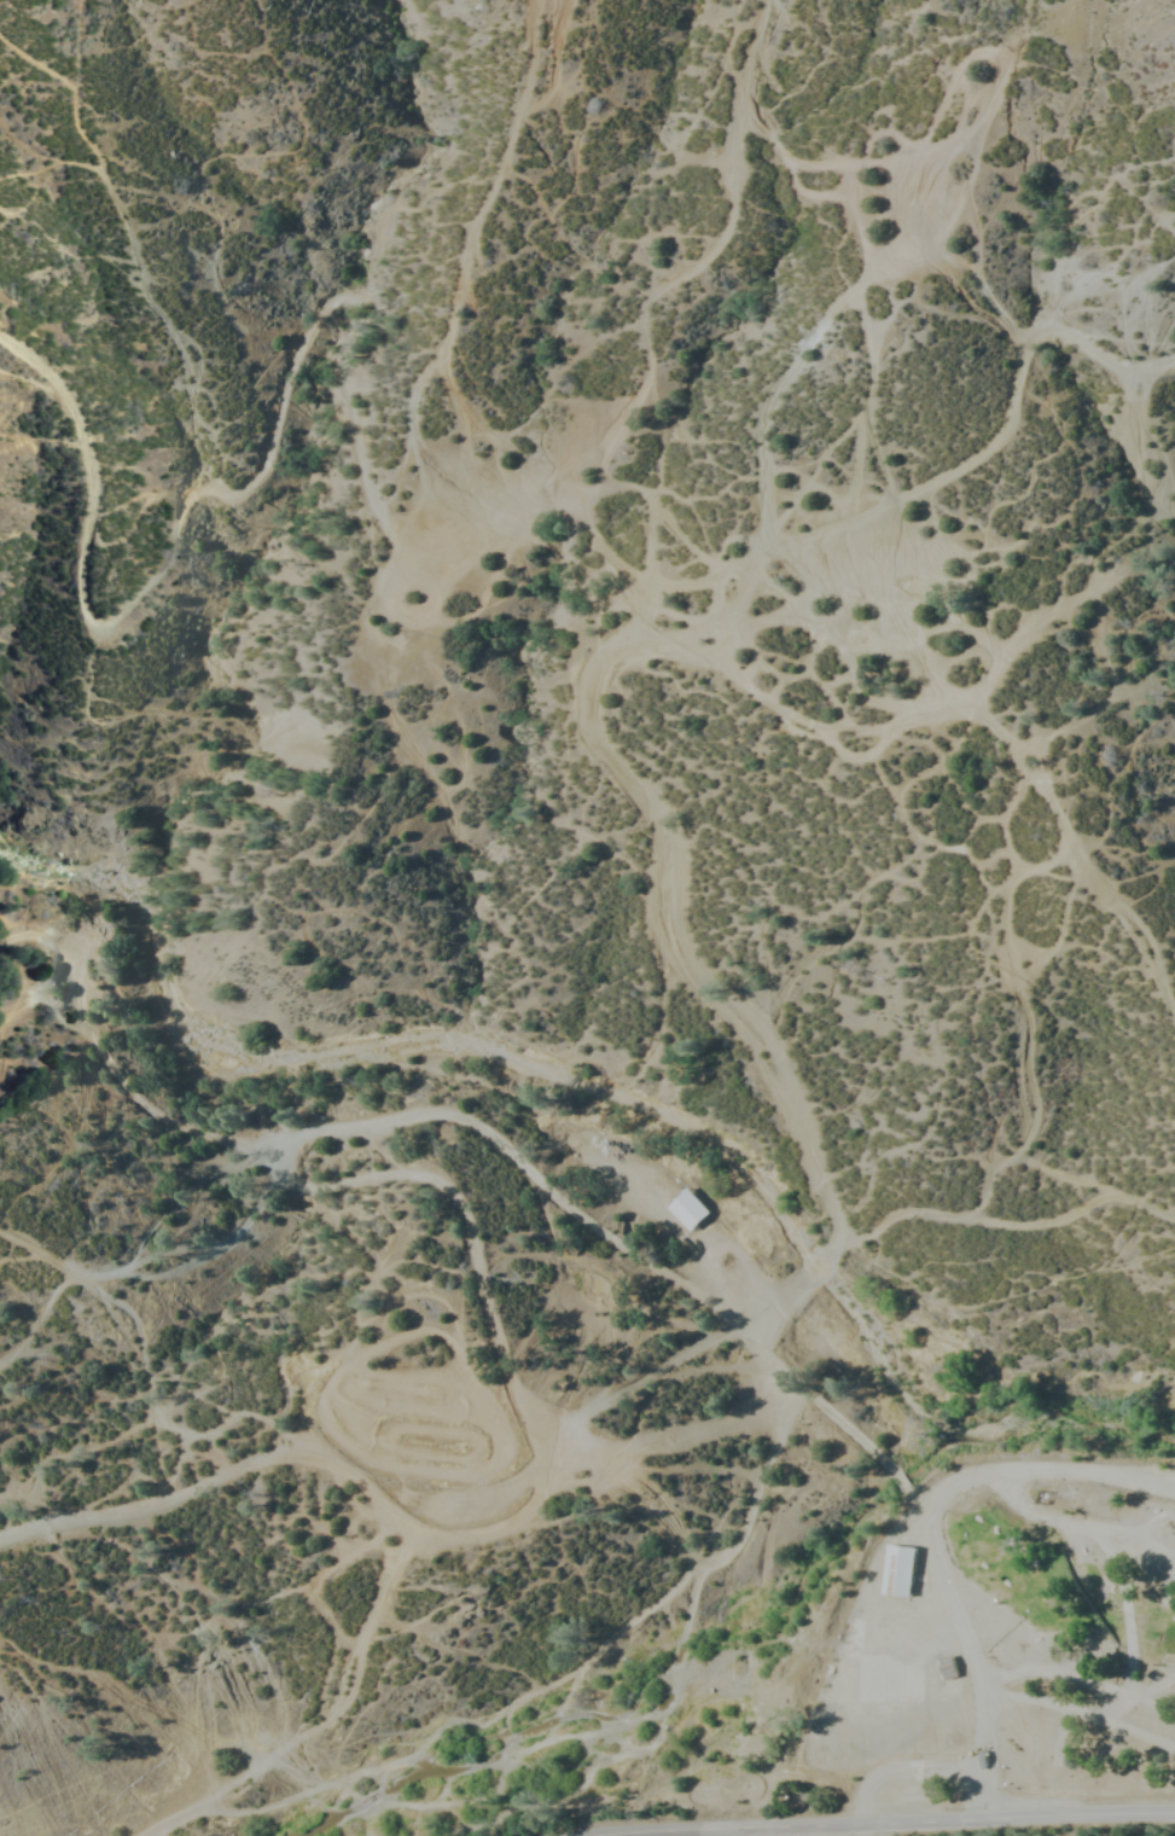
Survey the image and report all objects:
road: (688, 262)
road: (461, 267)
road: (299, 376)
road: (931, 476)
road: (735, 998)
road: (147, 1048)
road: (350, 1135)
building: (690, 1209)
road: (126, 1324)
road: (500, 1452)
building: (1165, 1518)
road: (100, 1529)
road: (385, 1552)
building: (900, 1571)
road: (942, 1581)
road: (592, 1643)
building: (947, 1668)
road: (1078, 1672)
helipad: (863, 1706)
road: (1072, 1710)
building: (984, 1759)
road: (897, 1824)

